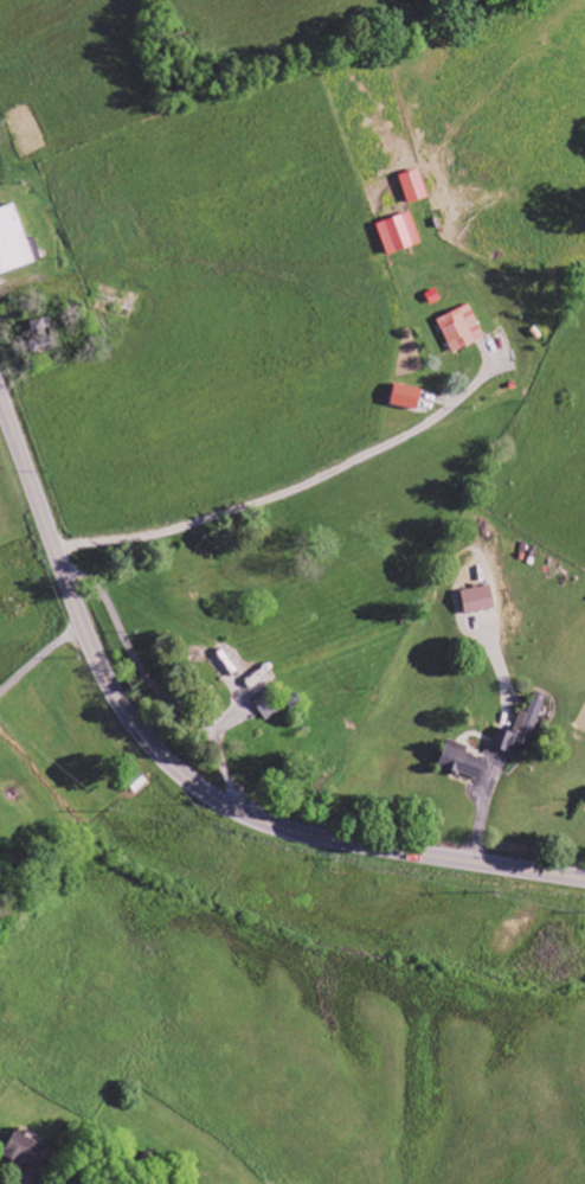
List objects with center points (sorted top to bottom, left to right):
building: (417, 187)
building: (401, 235)
building: (14, 243)
building: (463, 331)
road: (289, 487)
road: (39, 500)
building: (481, 600)
building: (269, 703)
building: (523, 727)
building: (464, 761)
road: (283, 824)
building: (30, 1152)

